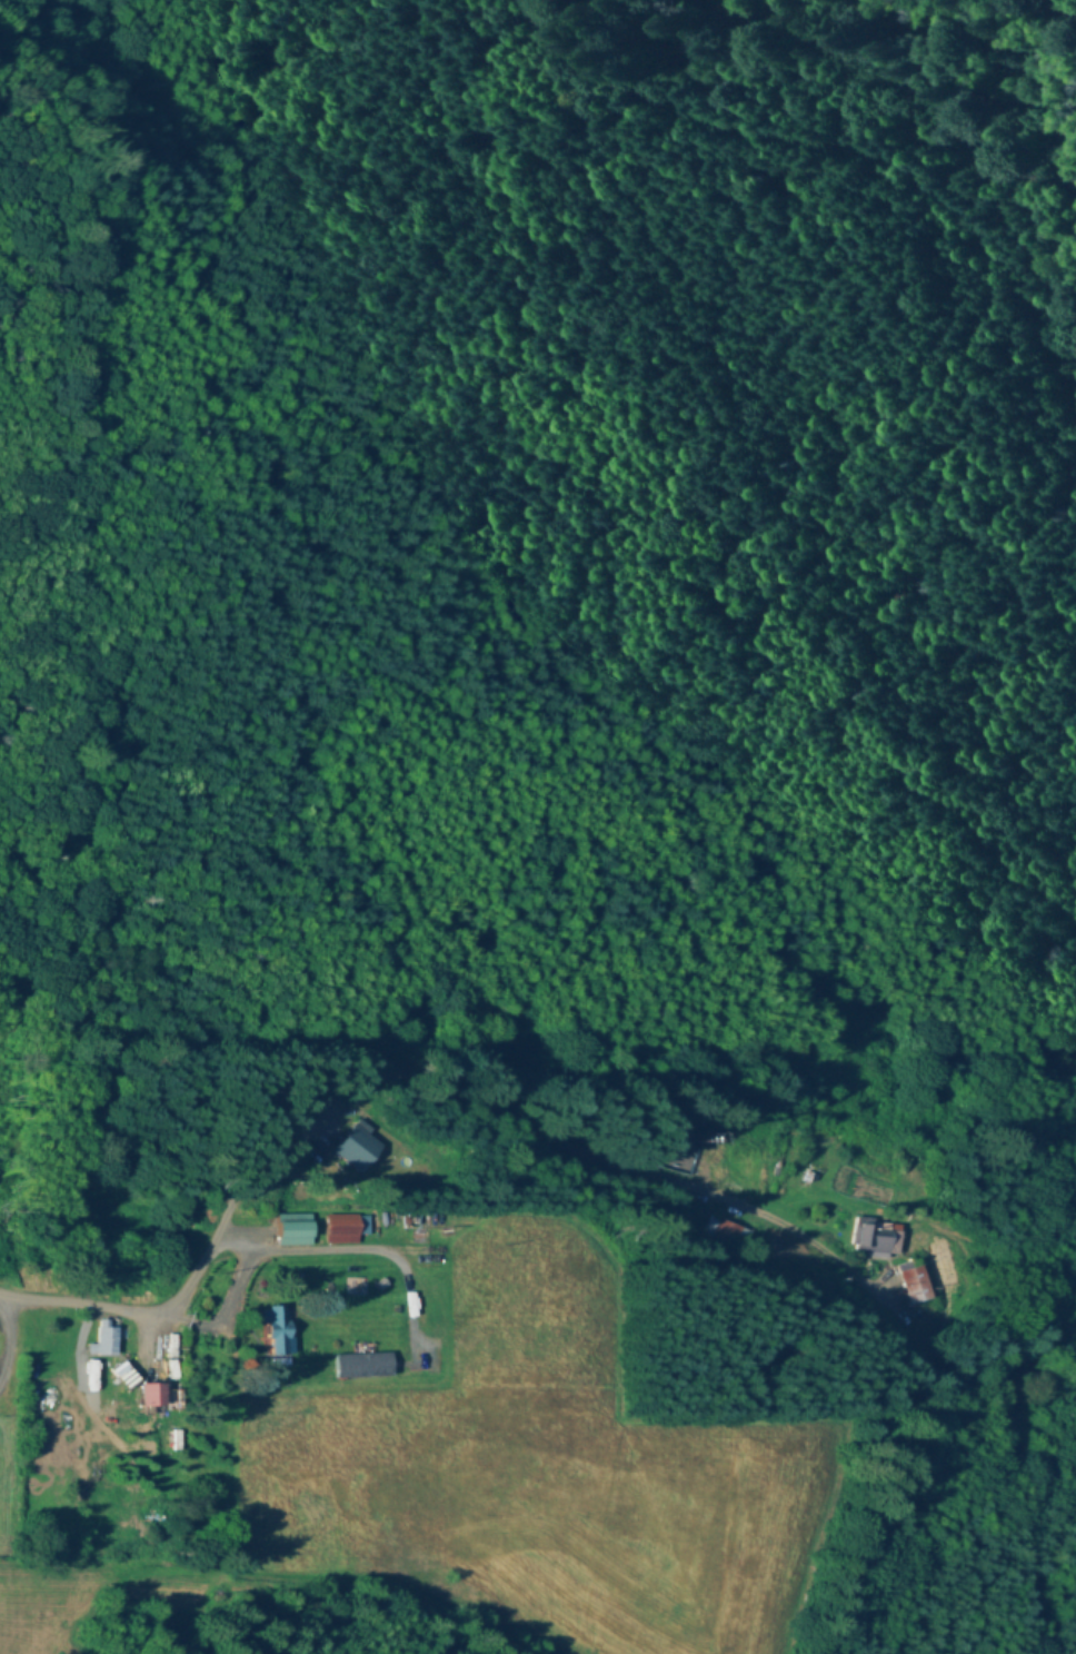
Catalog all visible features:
building: (365, 1150)
building: (298, 1230)
building: (727, 1232)
building: (879, 1237)
road: (221, 1246)
building: (913, 1284)
building: (279, 1337)
building: (362, 1366)
building: (129, 1371)
building: (170, 1440)

